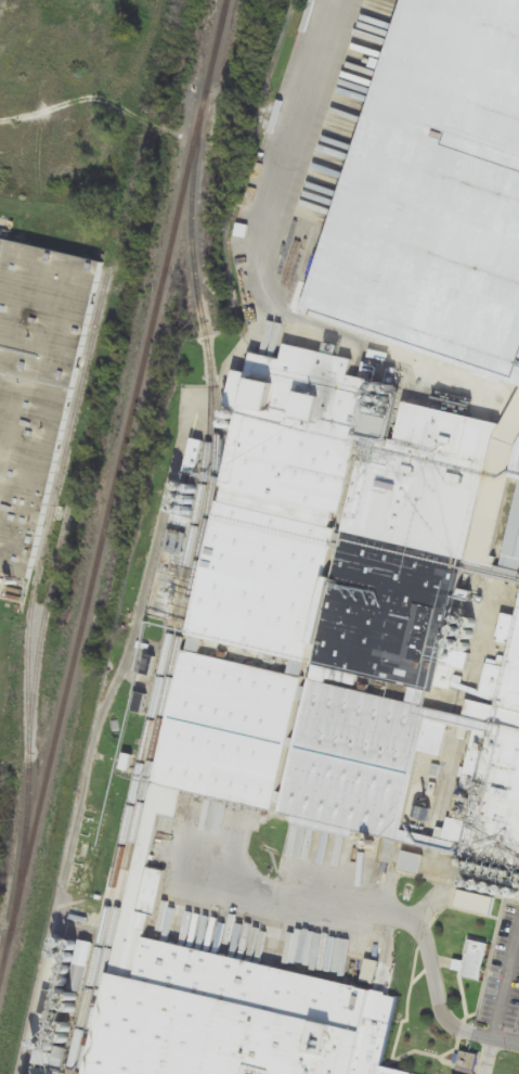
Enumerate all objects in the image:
building: (433, 194)
road: (268, 256)
building: (36, 386)
railway: (113, 490)
railway: (53, 506)
railway: (193, 589)
building: (338, 643)
railway: (33, 705)
railway: (147, 728)
building: (412, 862)
building: (475, 903)
road: (377, 909)
road: (503, 980)
road: (504, 1043)
road: (485, 1057)
building: (467, 1061)

